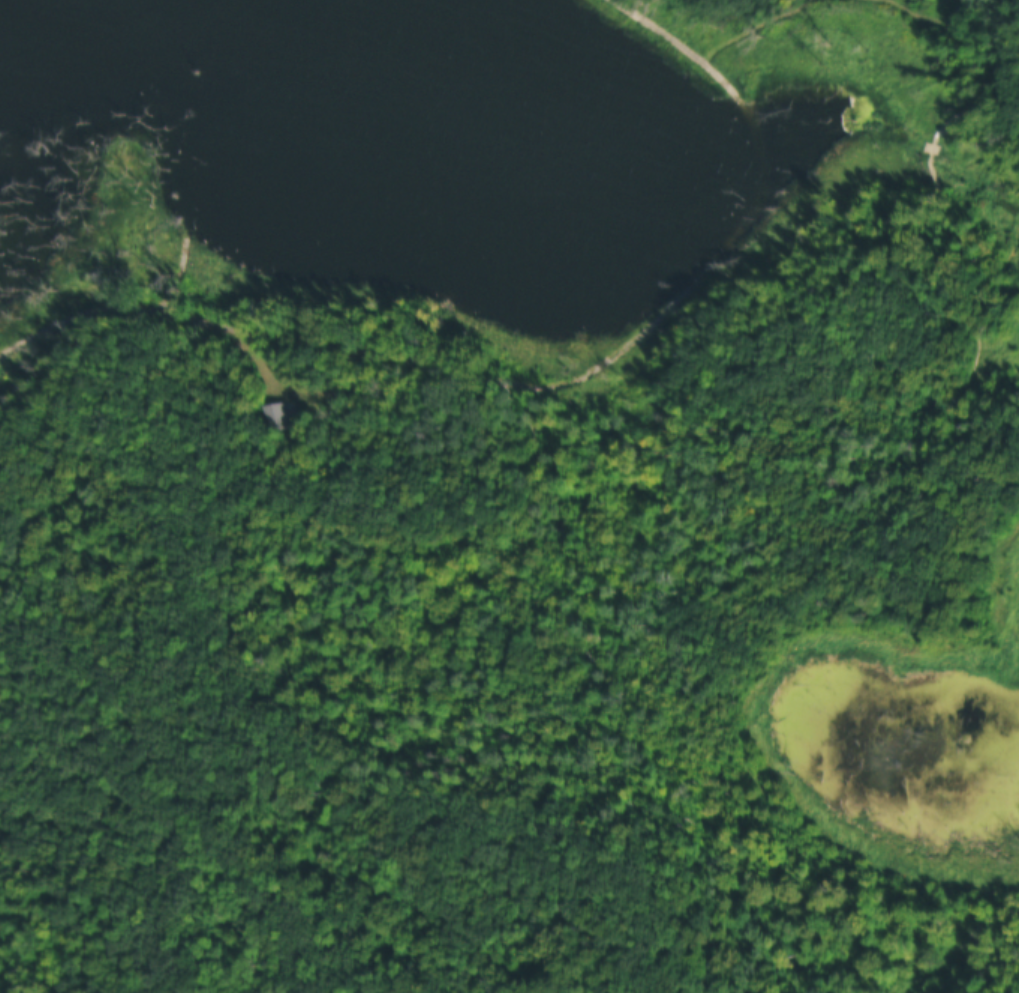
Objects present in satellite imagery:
road: (138, 103)
road: (564, 375)
building: (272, 415)

